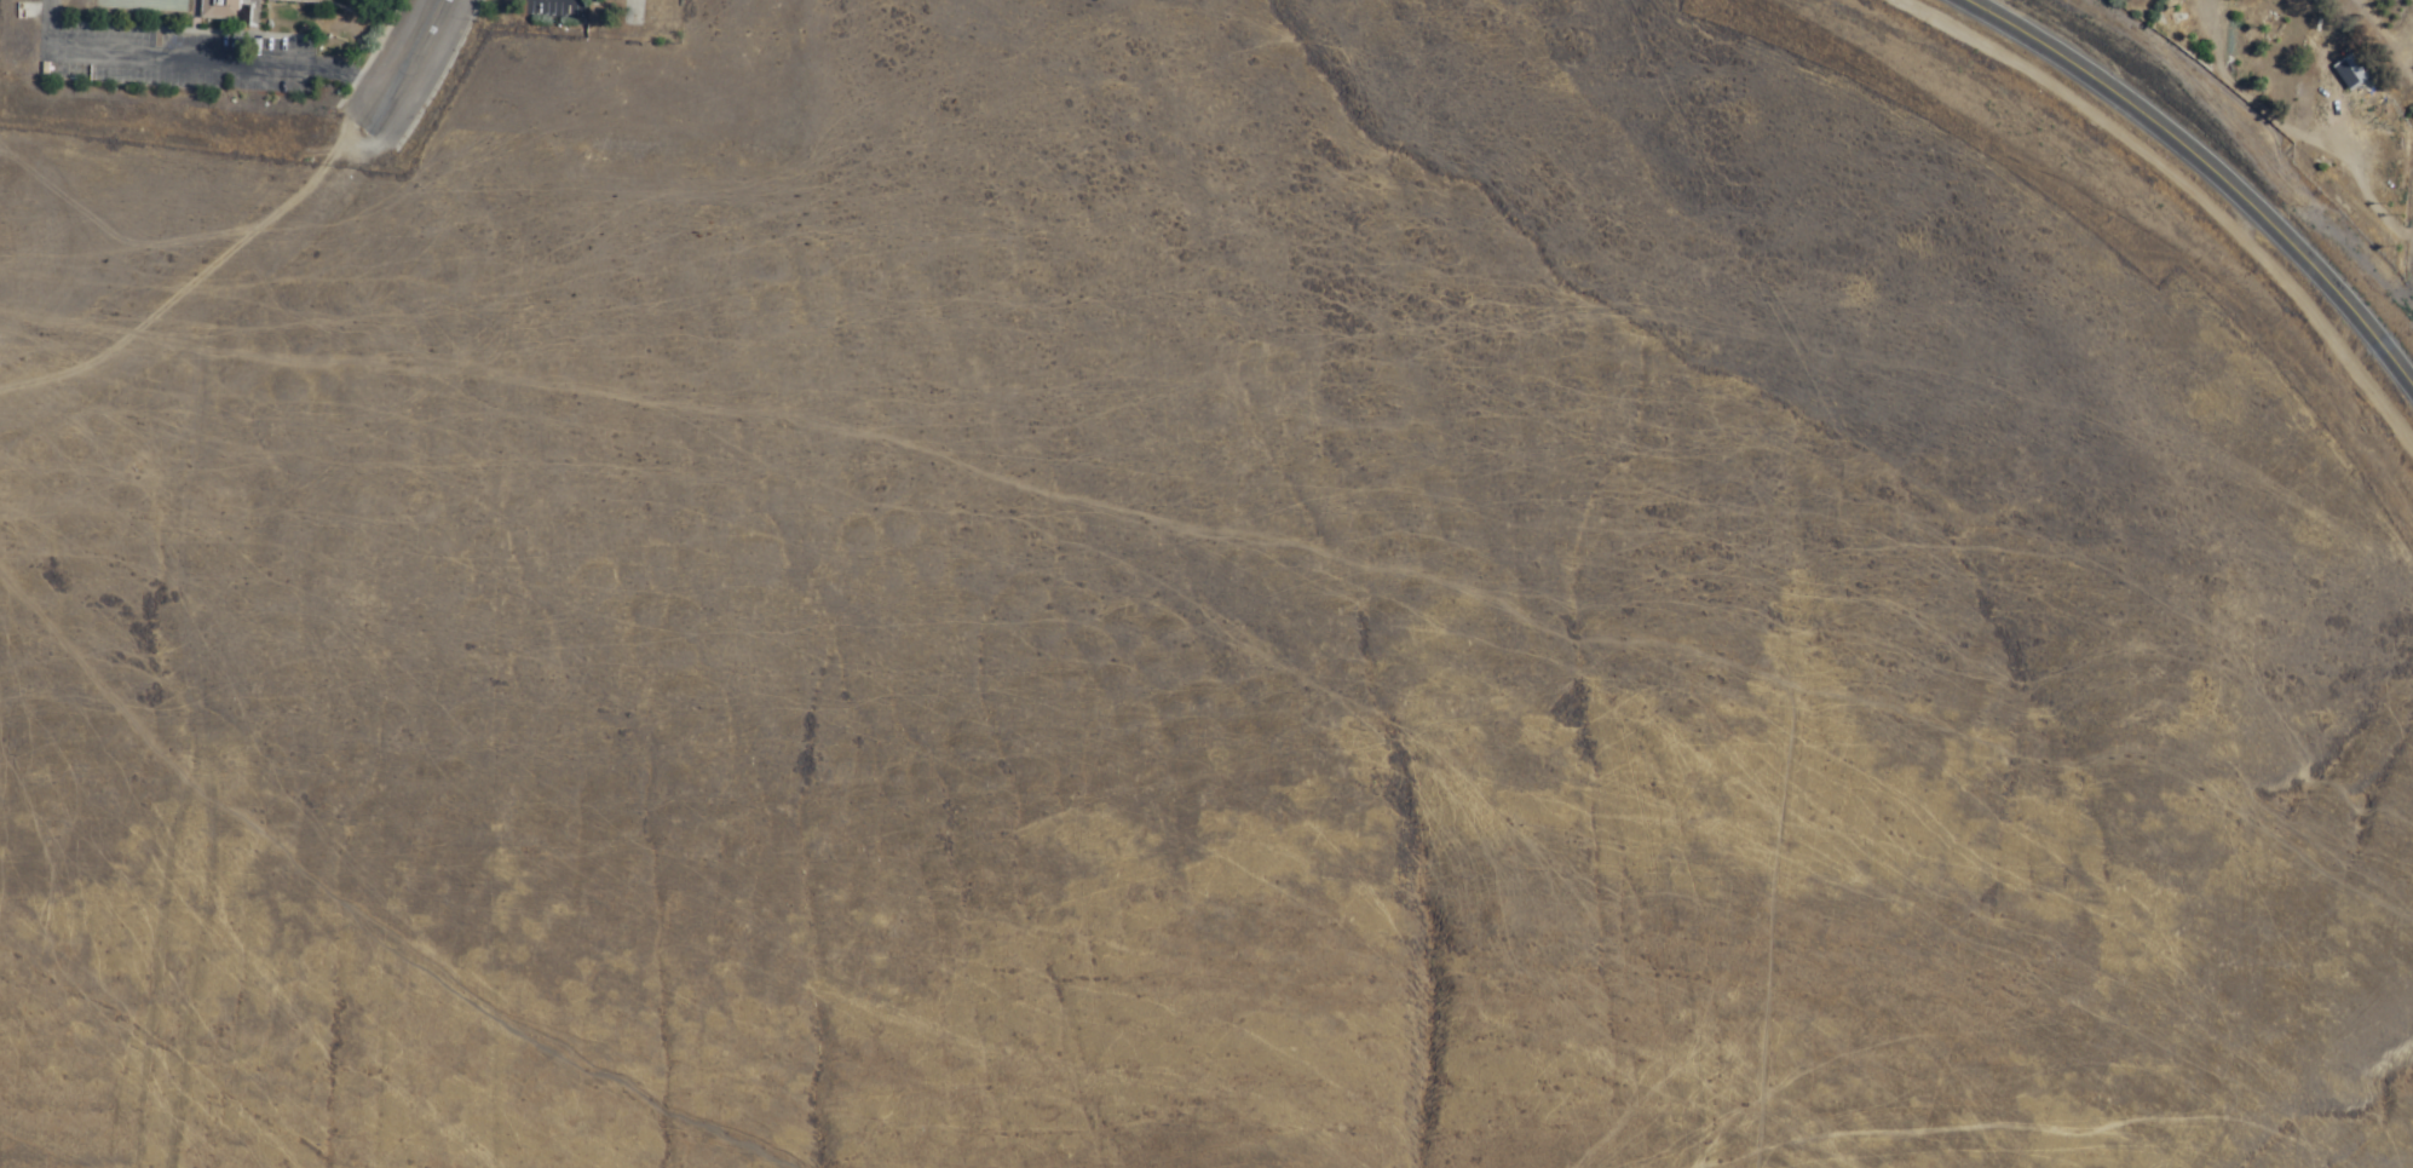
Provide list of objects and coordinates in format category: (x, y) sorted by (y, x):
building: (305, 0)
building: (219, 10)
road: (200, 62)
road: (408, 68)
building: (2346, 71)
road: (2204, 176)

